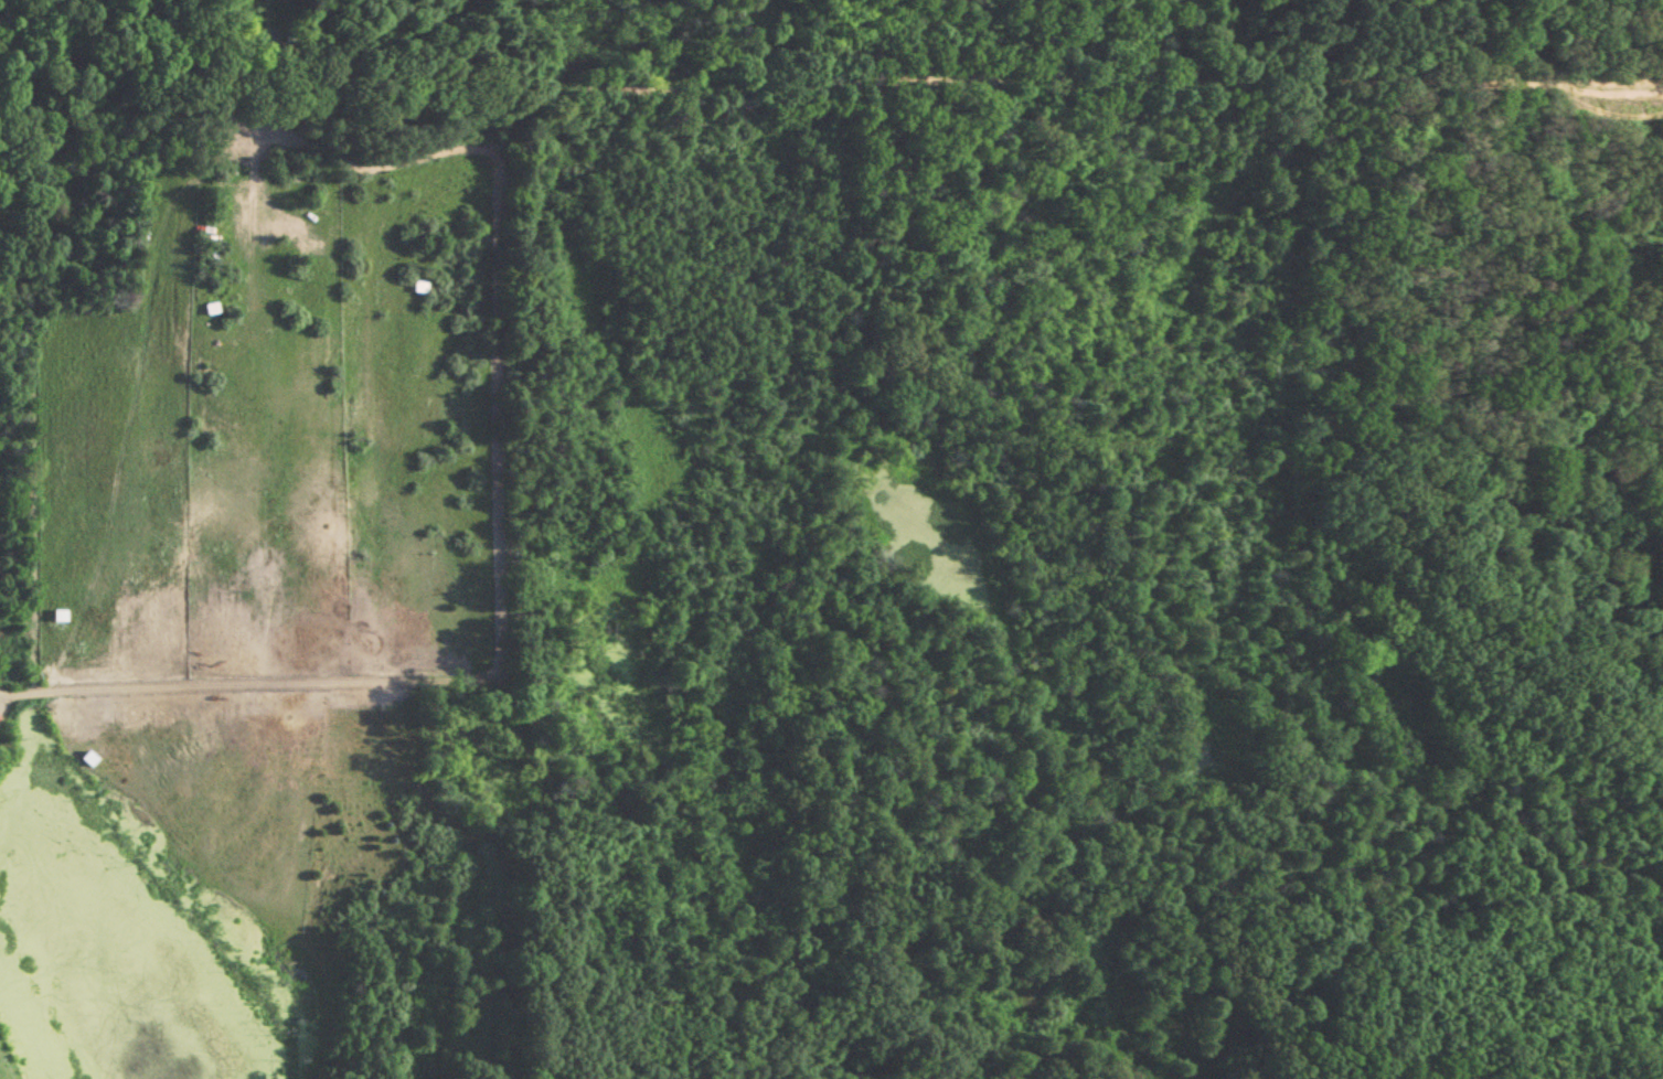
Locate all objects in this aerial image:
road: (889, 75)
building: (420, 287)

